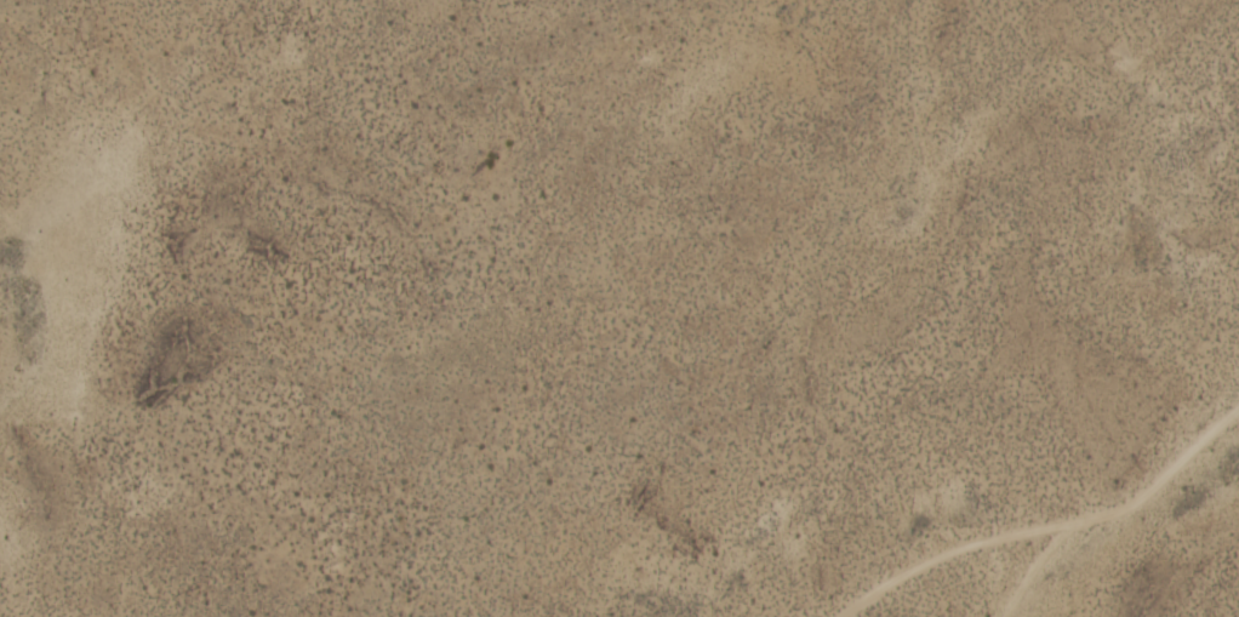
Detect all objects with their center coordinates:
road: (1087, 519)

